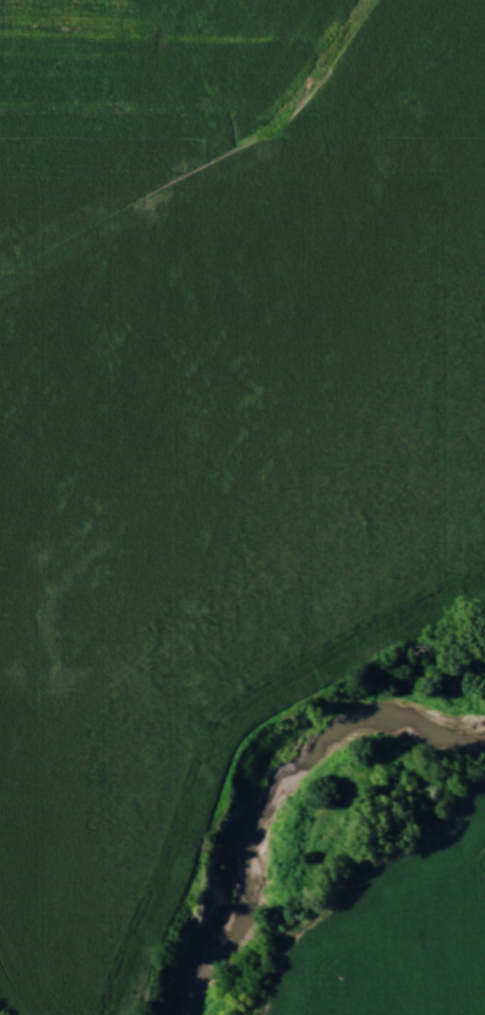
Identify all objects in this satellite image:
river: (282, 796)

